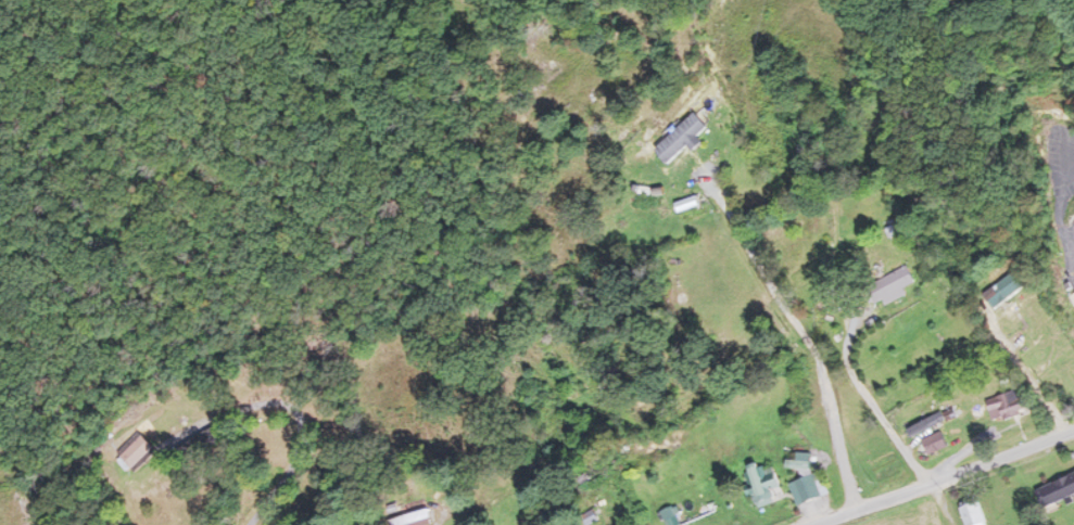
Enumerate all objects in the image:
building: (682, 138)
building: (888, 283)
building: (1003, 289)
building: (1072, 296)
building: (1009, 404)
building: (934, 443)
building: (135, 450)
road: (950, 481)
building: (765, 483)
building: (808, 487)
building: (1057, 490)
building: (973, 512)
building: (415, 517)

